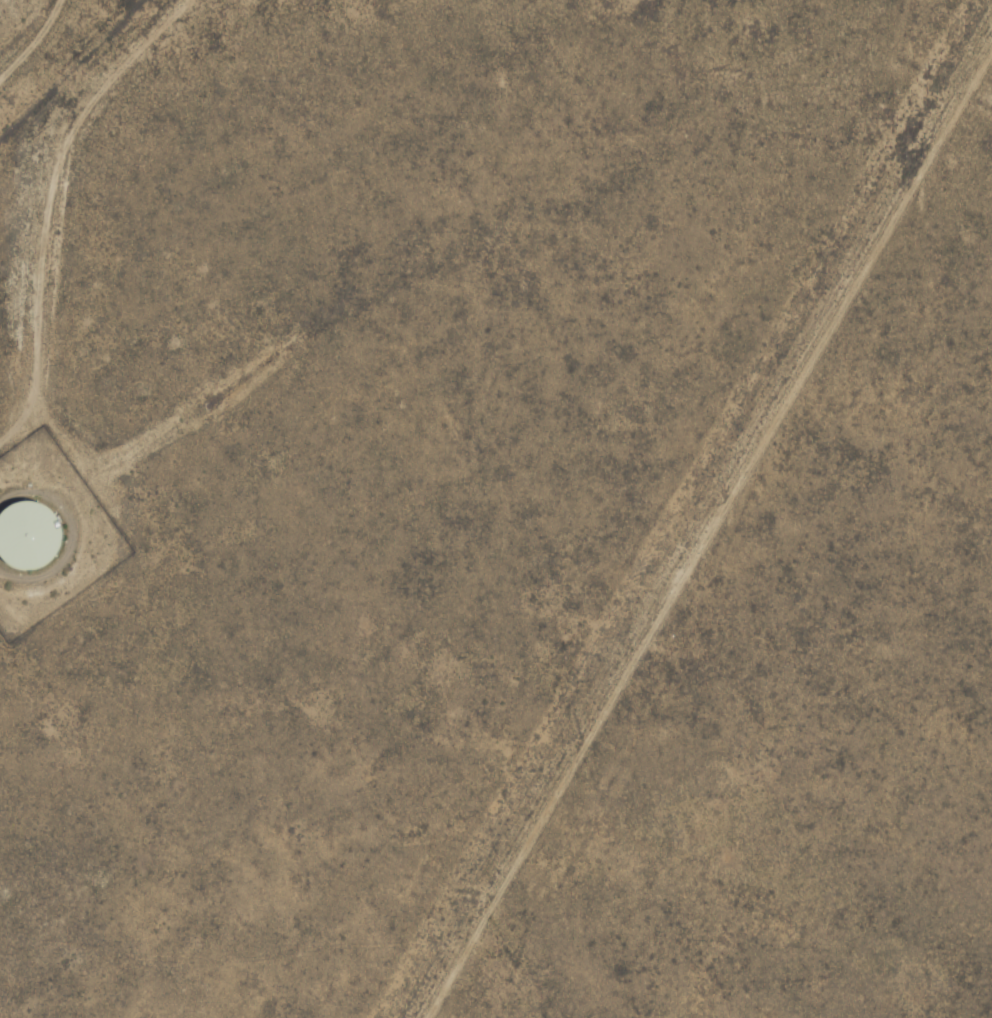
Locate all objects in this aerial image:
building: (36, 523)
storage tank: (36, 523)

